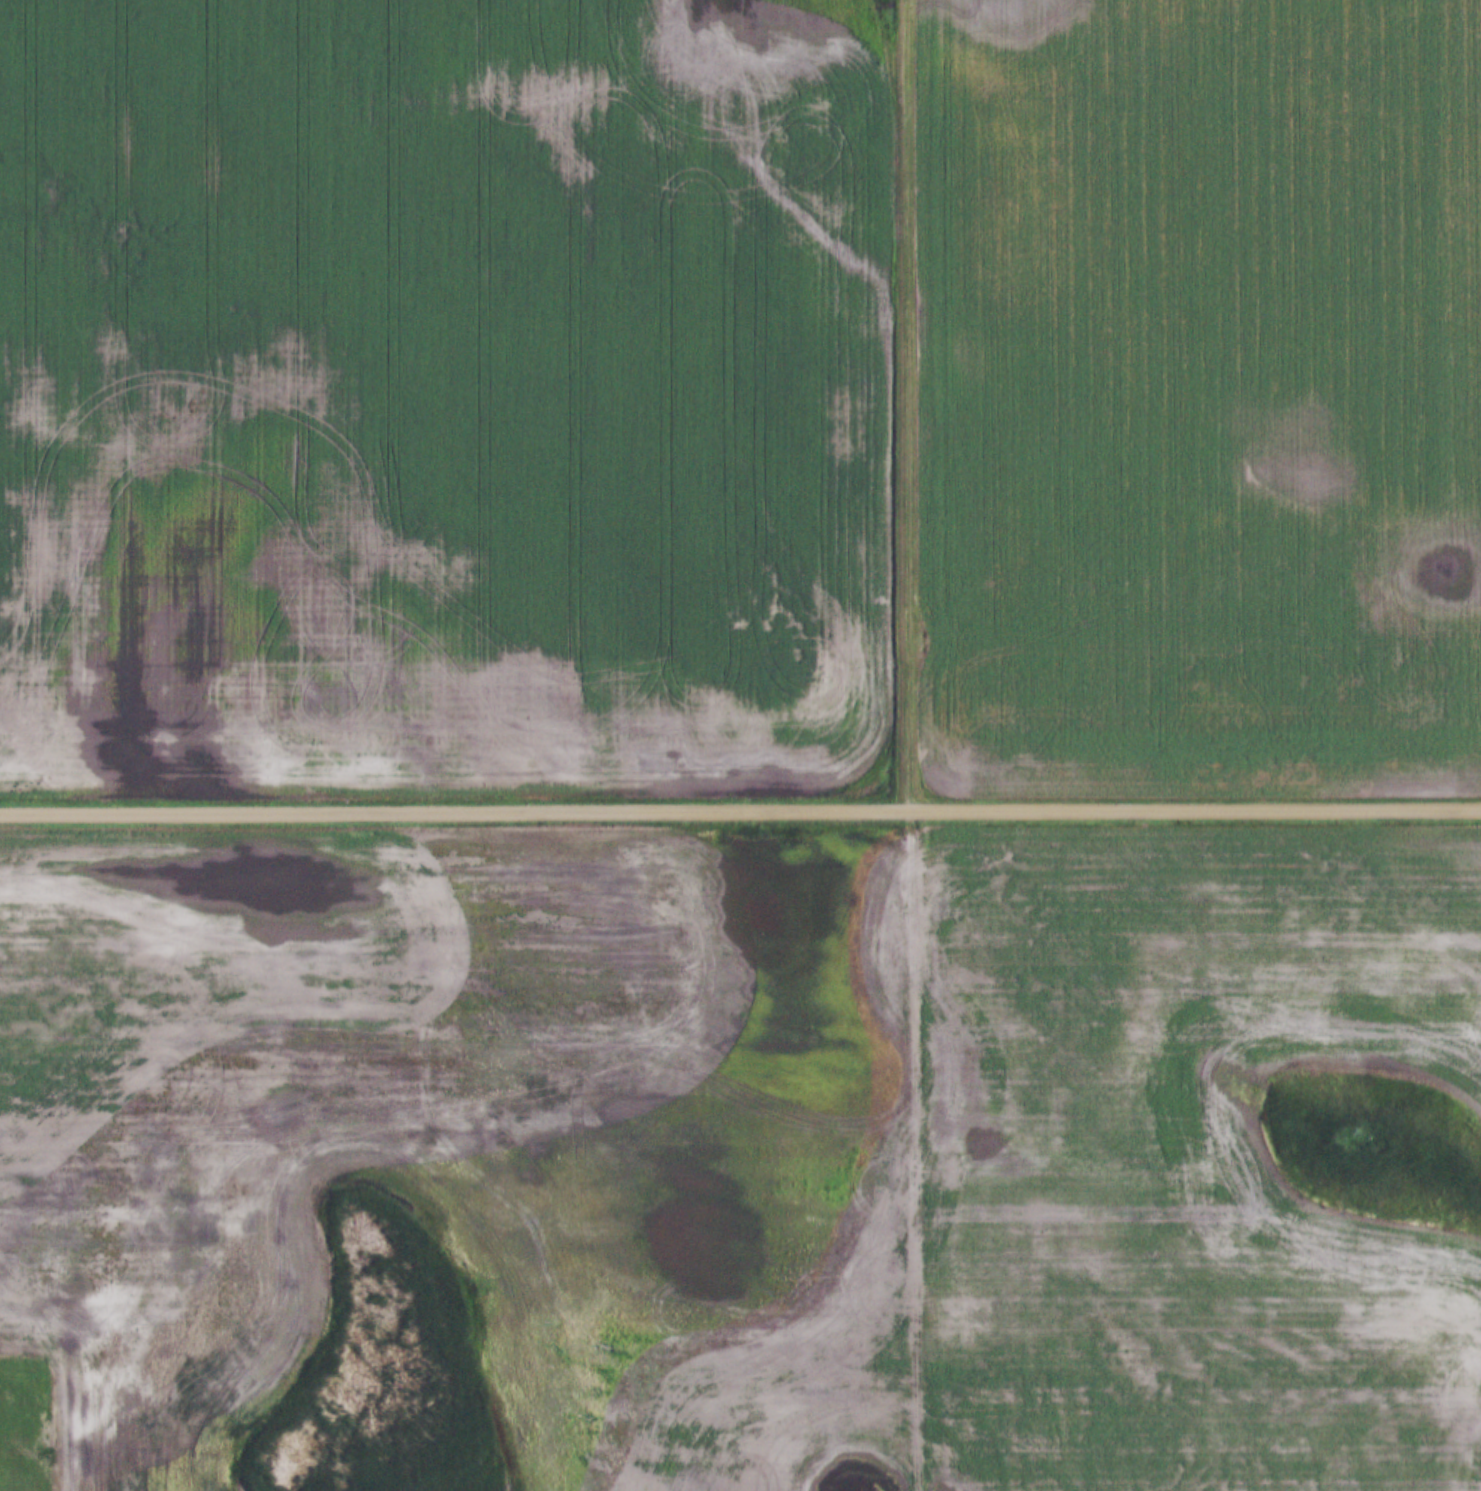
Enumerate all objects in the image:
road: (905, 745)
road: (740, 810)

